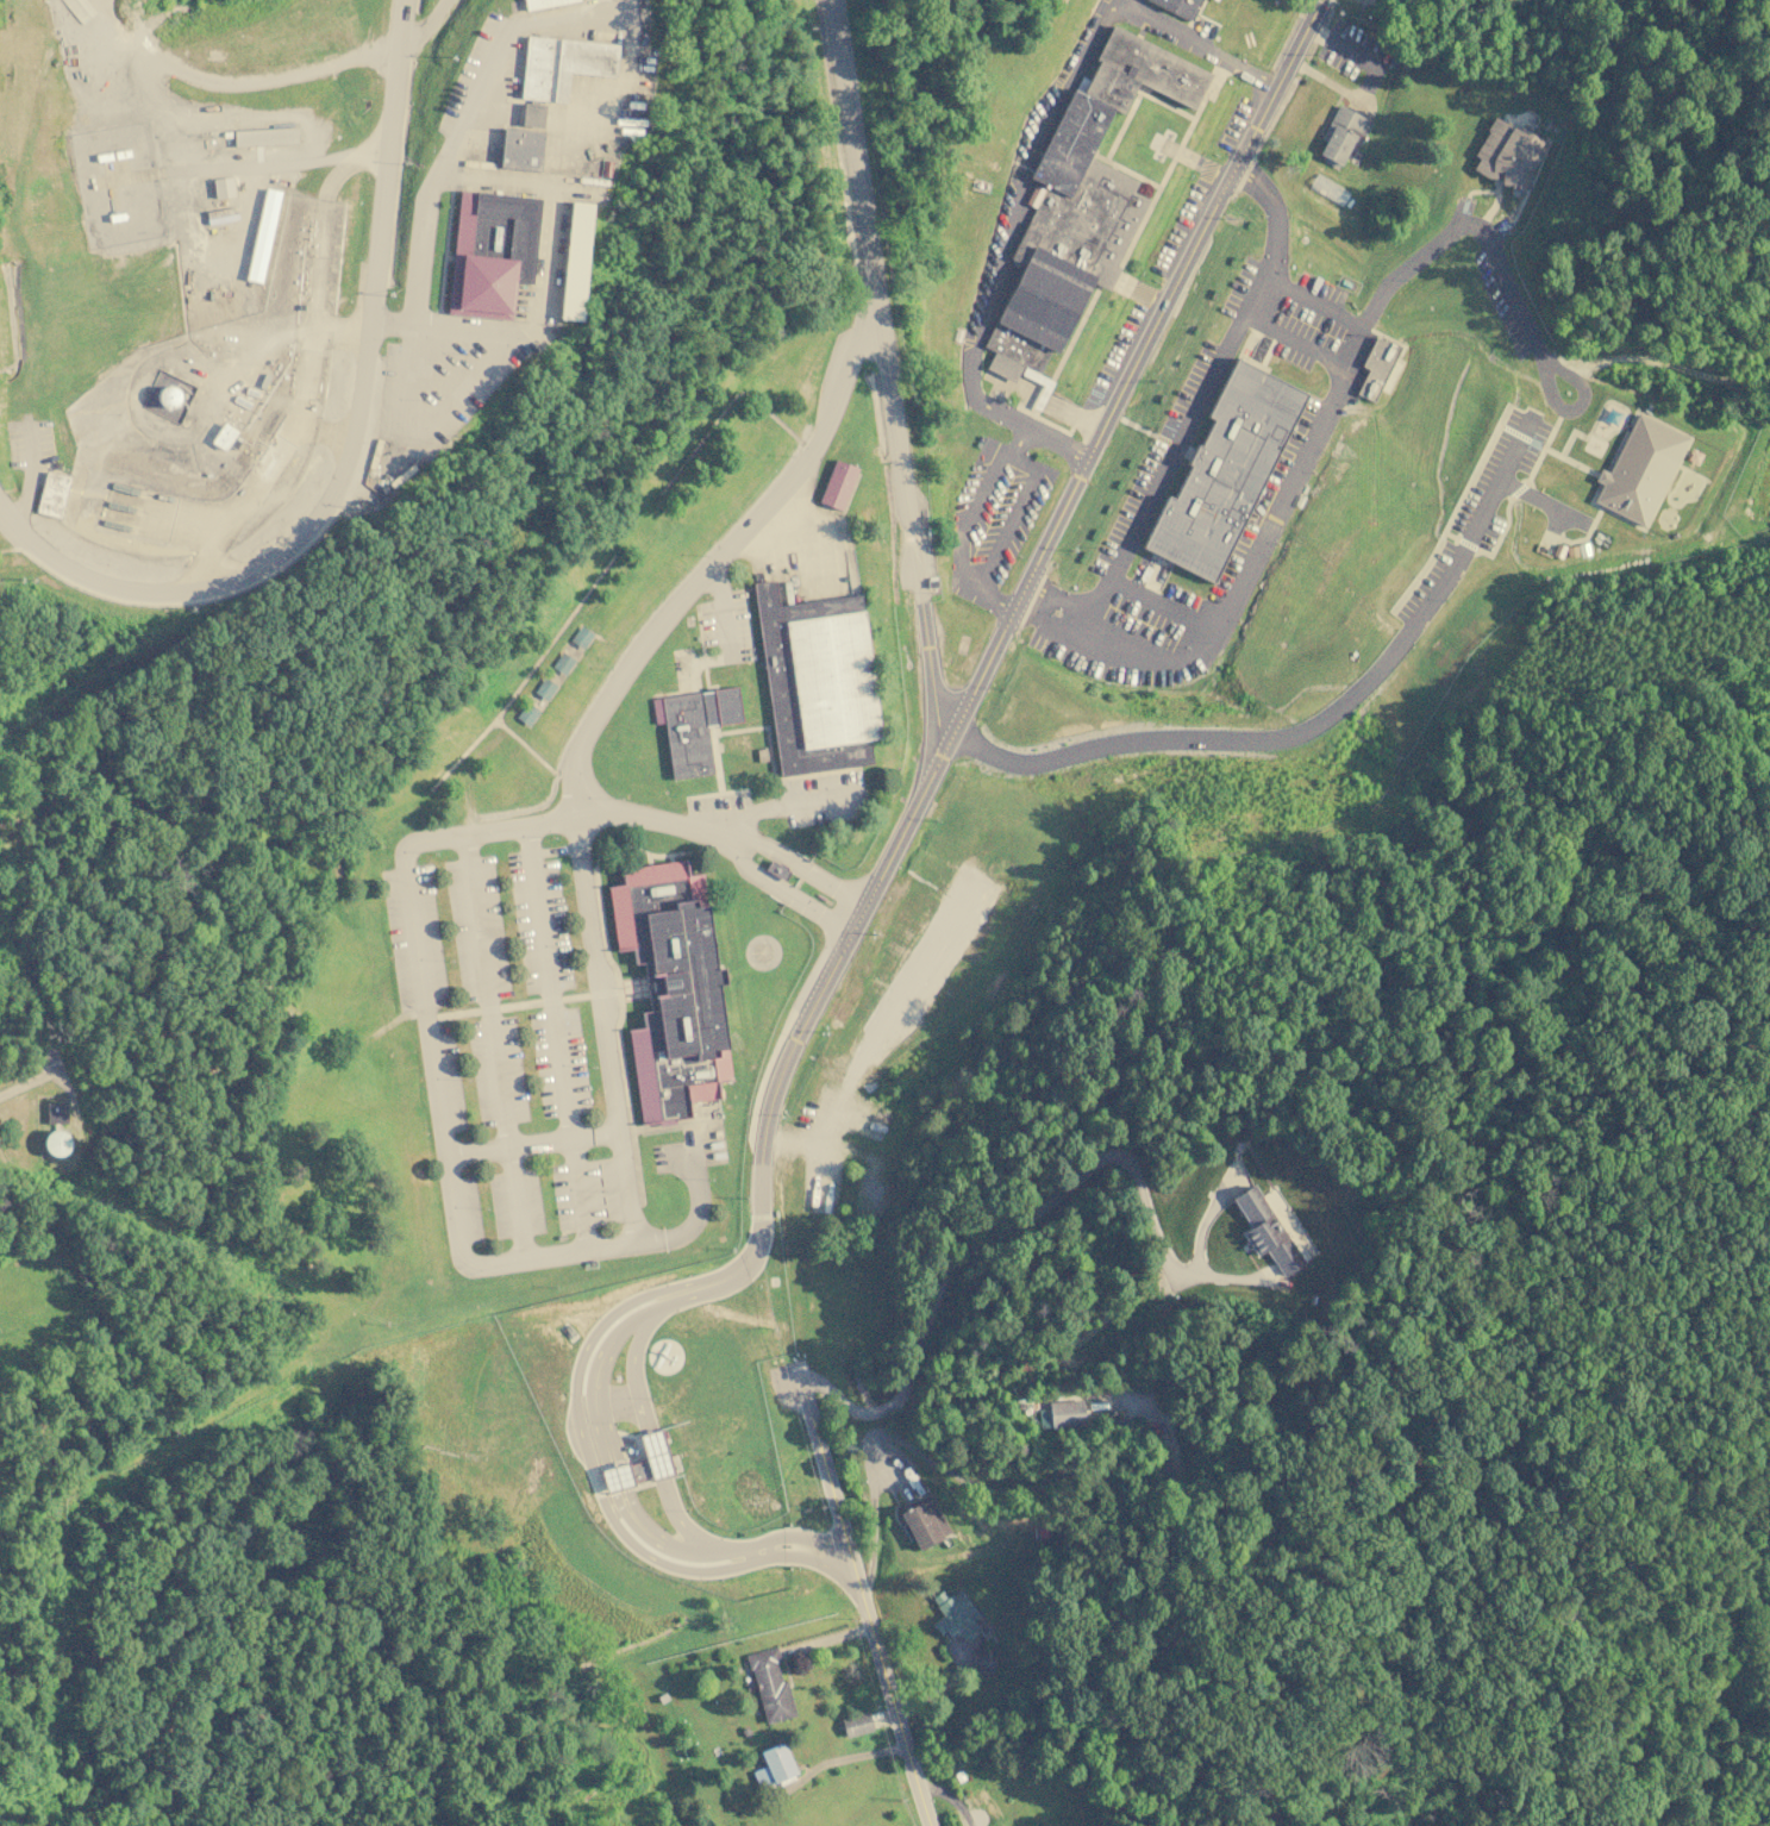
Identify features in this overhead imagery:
road: (1118, 0)
building: (1214, 0)
building: (540, 2)
building: (1177, 7)
road: (424, 29)
road: (1318, 32)
road: (1196, 43)
road: (1351, 51)
building: (577, 62)
building: (536, 68)
road: (620, 80)
road: (1341, 89)
building: (529, 117)
building: (1340, 135)
building: (517, 149)
building: (1507, 154)
road: (1028, 167)
park: (1637, 173)
building: (224, 187)
building: (1082, 200)
road: (1271, 204)
road: (546, 208)
building: (263, 234)
building: (487, 252)
road: (1416, 257)
building: (569, 263)
road: (869, 292)
road: (413, 293)
road: (1513, 294)
road: (1312, 304)
road: (390, 323)
road: (1297, 333)
road: (1575, 406)
road: (1007, 418)
building: (224, 436)
road: (1014, 442)
road: (351, 444)
building: (1694, 456)
road: (1008, 458)
road: (1171, 463)
building: (1224, 470)
building: (1638, 470)
road: (1288, 481)
building: (834, 483)
building: (52, 494)
road: (1539, 501)
road: (1476, 530)
road: (713, 565)
road: (999, 602)
road: (1162, 611)
road: (1119, 656)
road: (930, 668)
road: (983, 670)
building: (825, 677)
road: (734, 708)
building: (656, 711)
building: (526, 713)
building: (684, 734)
road: (1199, 738)
road: (631, 787)
road: (802, 801)
road: (619, 814)
road: (482, 831)
road: (752, 844)
road: (738, 863)
road: (826, 882)
road: (811, 908)
building: (671, 988)
road: (602, 1024)
road: (557, 1037)
parking lot: (498, 1044)
road: (492, 1048)
road: (430, 1053)
road: (27, 1082)
building: (56, 1112)
road: (794, 1139)
water tower: (54, 1144)
road: (508, 1147)
building: (1265, 1230)
road: (992, 1234)
road: (618, 1246)
road: (1196, 1258)
park: (1386, 1275)
road: (631, 1365)
road: (577, 1374)
road: (606, 1375)
road: (587, 1395)
building: (1061, 1414)
road: (656, 1453)
building: (639, 1464)
road: (621, 1475)
road: (608, 1478)
road: (1017, 1489)
road: (678, 1520)
building: (922, 1524)
road: (657, 1531)
road: (648, 1538)
road: (773, 1538)
road: (871, 1542)
road: (708, 1570)
road: (863, 1596)
building: (955, 1614)
building: (982, 1659)
building: (770, 1684)
building: (855, 1724)
building: (745, 1731)
building: (774, 1765)
building: (958, 1776)
building: (983, 1809)

